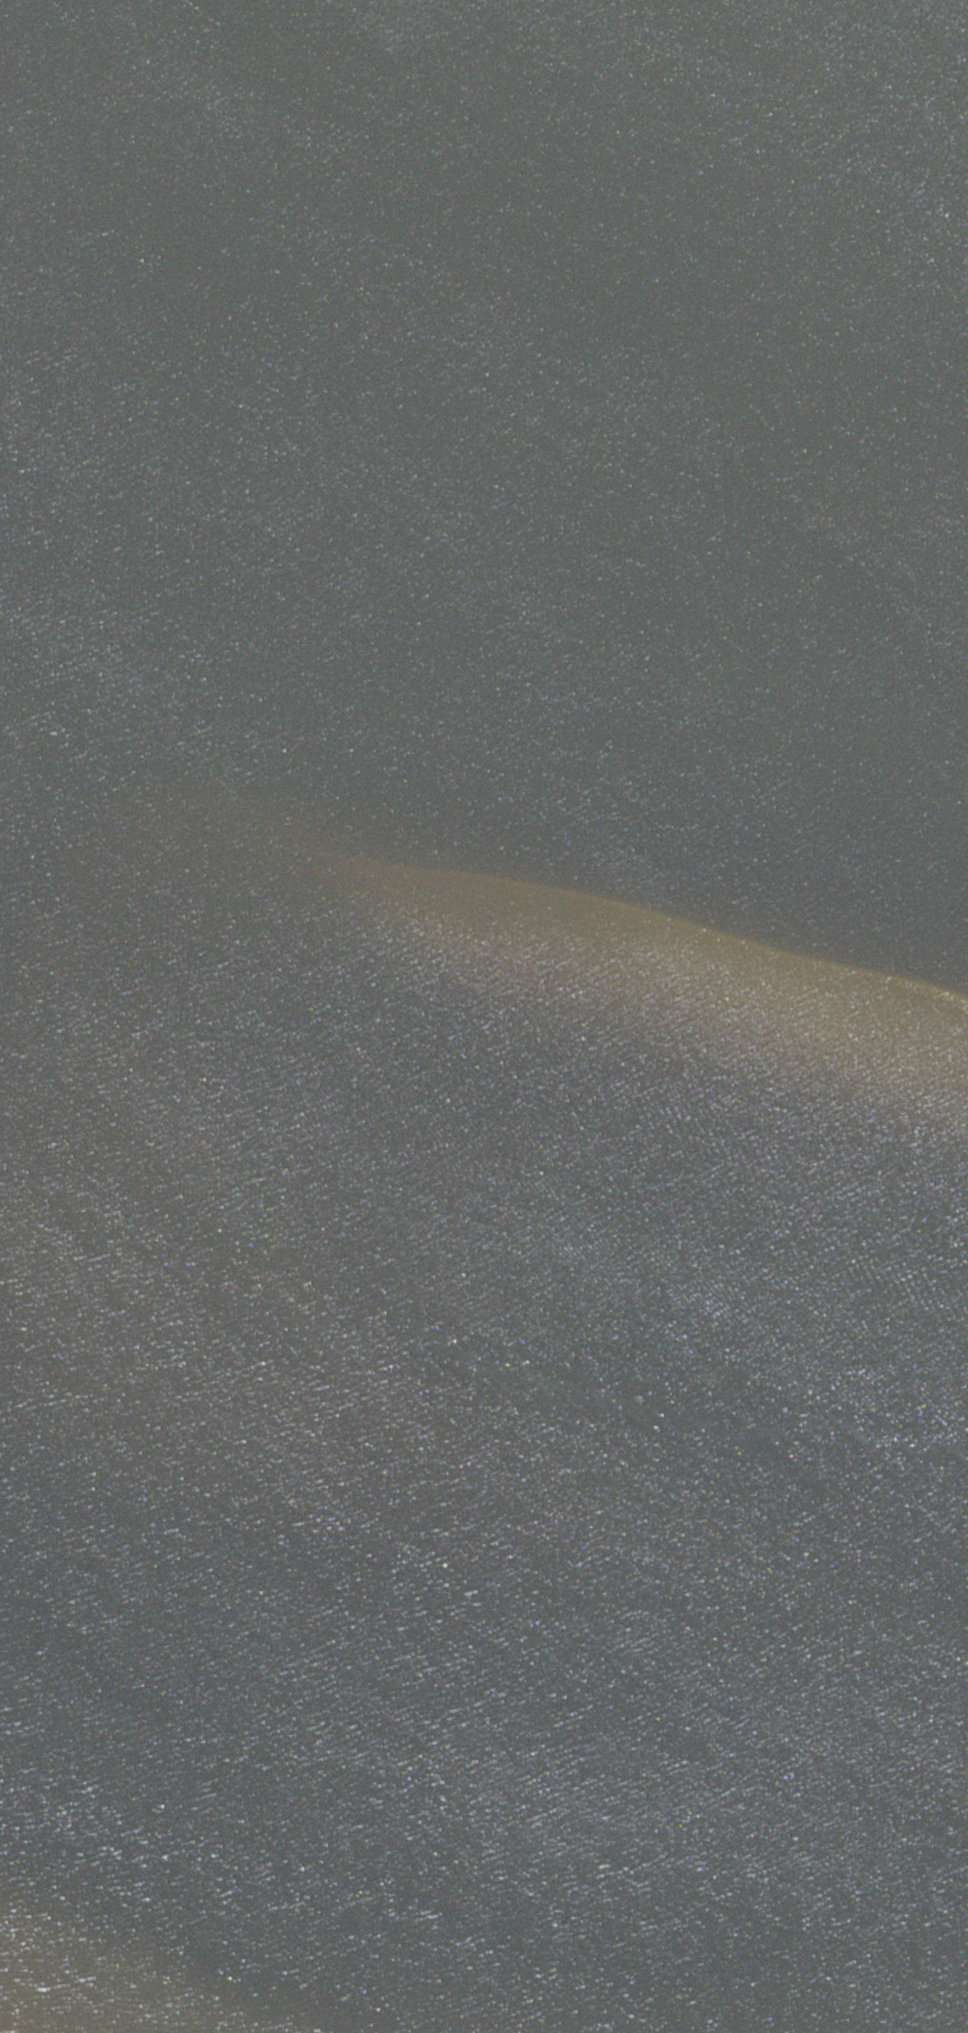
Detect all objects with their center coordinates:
building: (601, 1678)
river: (33, 2004)

